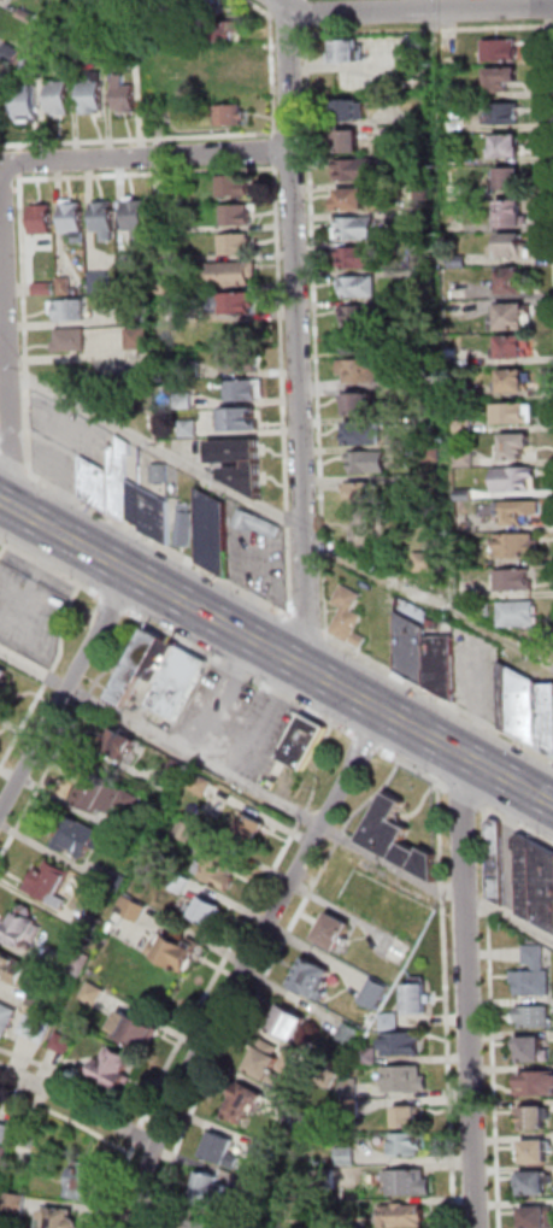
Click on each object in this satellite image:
building: (4, 0)
road: (548, 2)
road: (270, 5)
building: (199, 6)
road: (306, 6)
road: (419, 8)
road: (261, 10)
building: (27, 16)
road: (283, 23)
building: (219, 31)
building: (129, 40)
building: (418, 42)
building: (501, 49)
building: (348, 51)
building: (10, 52)
building: (33, 65)
building: (233, 70)
road: (272, 72)
building: (499, 78)
building: (93, 94)
building: (125, 94)
building: (60, 96)
building: (29, 102)
building: (349, 110)
building: (507, 112)
building: (230, 114)
road: (136, 140)
building: (351, 141)
building: (504, 143)
road: (19, 149)
road: (275, 152)
road: (20, 163)
building: (357, 168)
road: (147, 174)
building: (512, 177)
building: (160, 186)
building: (235, 187)
road: (2, 189)
road: (6, 190)
road: (17, 190)
building: (353, 199)
building: (513, 212)
building: (237, 216)
building: (42, 218)
building: (73, 219)
building: (105, 219)
building: (137, 221)
building: (354, 227)
building: (237, 243)
building: (514, 245)
building: (357, 255)
building: (129, 262)
building: (231, 274)
building: (510, 278)
building: (101, 282)
building: (164, 283)
building: (357, 284)
building: (65, 286)
building: (43, 289)
building: (237, 302)
road: (2, 309)
building: (69, 309)
building: (141, 313)
building: (353, 315)
building: (514, 316)
road: (23, 323)
road: (299, 335)
building: (139, 337)
building: (71, 339)
building: (514, 347)
building: (242, 360)
building: (192, 368)
building: (361, 370)
building: (433, 375)
building: (516, 380)
building: (134, 383)
building: (246, 388)
road: (283, 390)
building: (184, 400)
building: (355, 403)
building: (512, 413)
building: (241, 418)
building: (190, 429)
building: (366, 433)
building: (518, 445)
road: (155, 447)
building: (236, 450)
building: (466, 458)
building: (370, 462)
road: (12, 464)
building: (160, 472)
building: (120, 477)
building: (247, 477)
building: (514, 478)
building: (98, 483)
building: (358, 490)
building: (466, 494)
building: (135, 503)
building: (513, 511)
building: (155, 515)
building: (257, 523)
building: (184, 525)
building: (363, 529)
building: (213, 531)
building: (517, 544)
road: (159, 545)
building: (0, 559)
building: (431, 562)
road: (48, 566)
building: (516, 580)
road: (430, 598)
road: (112, 603)
building: (484, 610)
building: (518, 615)
building: (349, 616)
road: (306, 624)
building: (413, 648)
road: (276, 653)
building: (163, 660)
building: (442, 664)
building: (137, 669)
road: (242, 674)
building: (4, 675)
road: (47, 676)
building: (178, 682)
road: (63, 691)
road: (436, 697)
building: (528, 707)
building: (305, 742)
road: (367, 742)
building: (122, 745)
road: (414, 769)
building: (180, 771)
road: (230, 775)
building: (201, 785)
building: (93, 791)
building: (113, 798)
road: (465, 798)
building: (130, 801)
road: (518, 825)
building: (252, 828)
building: (186, 830)
building: (77, 838)
building: (400, 839)
building: (498, 862)
building: (220, 869)
building: (536, 881)
building: (180, 882)
building: (51, 885)
building: (360, 887)
building: (133, 909)
building: (207, 911)
road: (507, 917)
building: (99, 918)
building: (399, 919)
road: (241, 928)
building: (23, 929)
building: (335, 932)
building: (175, 950)
building: (535, 957)
building: (75, 963)
road: (246, 964)
building: (13, 969)
building: (313, 979)
road: (259, 983)
building: (534, 983)
building: (375, 993)
road: (465, 993)
building: (93, 994)
building: (418, 999)
road: (446, 1005)
building: (36, 1006)
building: (535, 1017)
building: (7, 1018)
building: (390, 1022)
building: (288, 1023)
building: (36, 1029)
building: (134, 1030)
building: (348, 1034)
building: (63, 1044)
building: (402, 1044)
building: (534, 1051)
building: (370, 1057)
building: (267, 1062)
building: (114, 1069)
building: (405, 1080)
building: (537, 1085)
building: (351, 1088)
road: (78, 1103)
building: (243, 1104)
building: (351, 1107)
road: (66, 1118)
building: (534, 1118)
road: (149, 1120)
building: (408, 1120)
road: (161, 1128)
building: (6, 1133)
road: (136, 1135)
road: (175, 1135)
building: (406, 1145)
building: (222, 1151)
building: (261, 1151)
building: (536, 1152)
building: (4, 1154)
building: (346, 1157)
building: (324, 1180)
building: (83, 1181)
building: (408, 1182)
building: (534, 1183)
road: (123, 1185)
building: (261, 1191)
building: (210, 1192)
building: (16, 1204)
building: (406, 1217)
building: (539, 1217)
building: (61, 1220)
building: (202, 1224)

